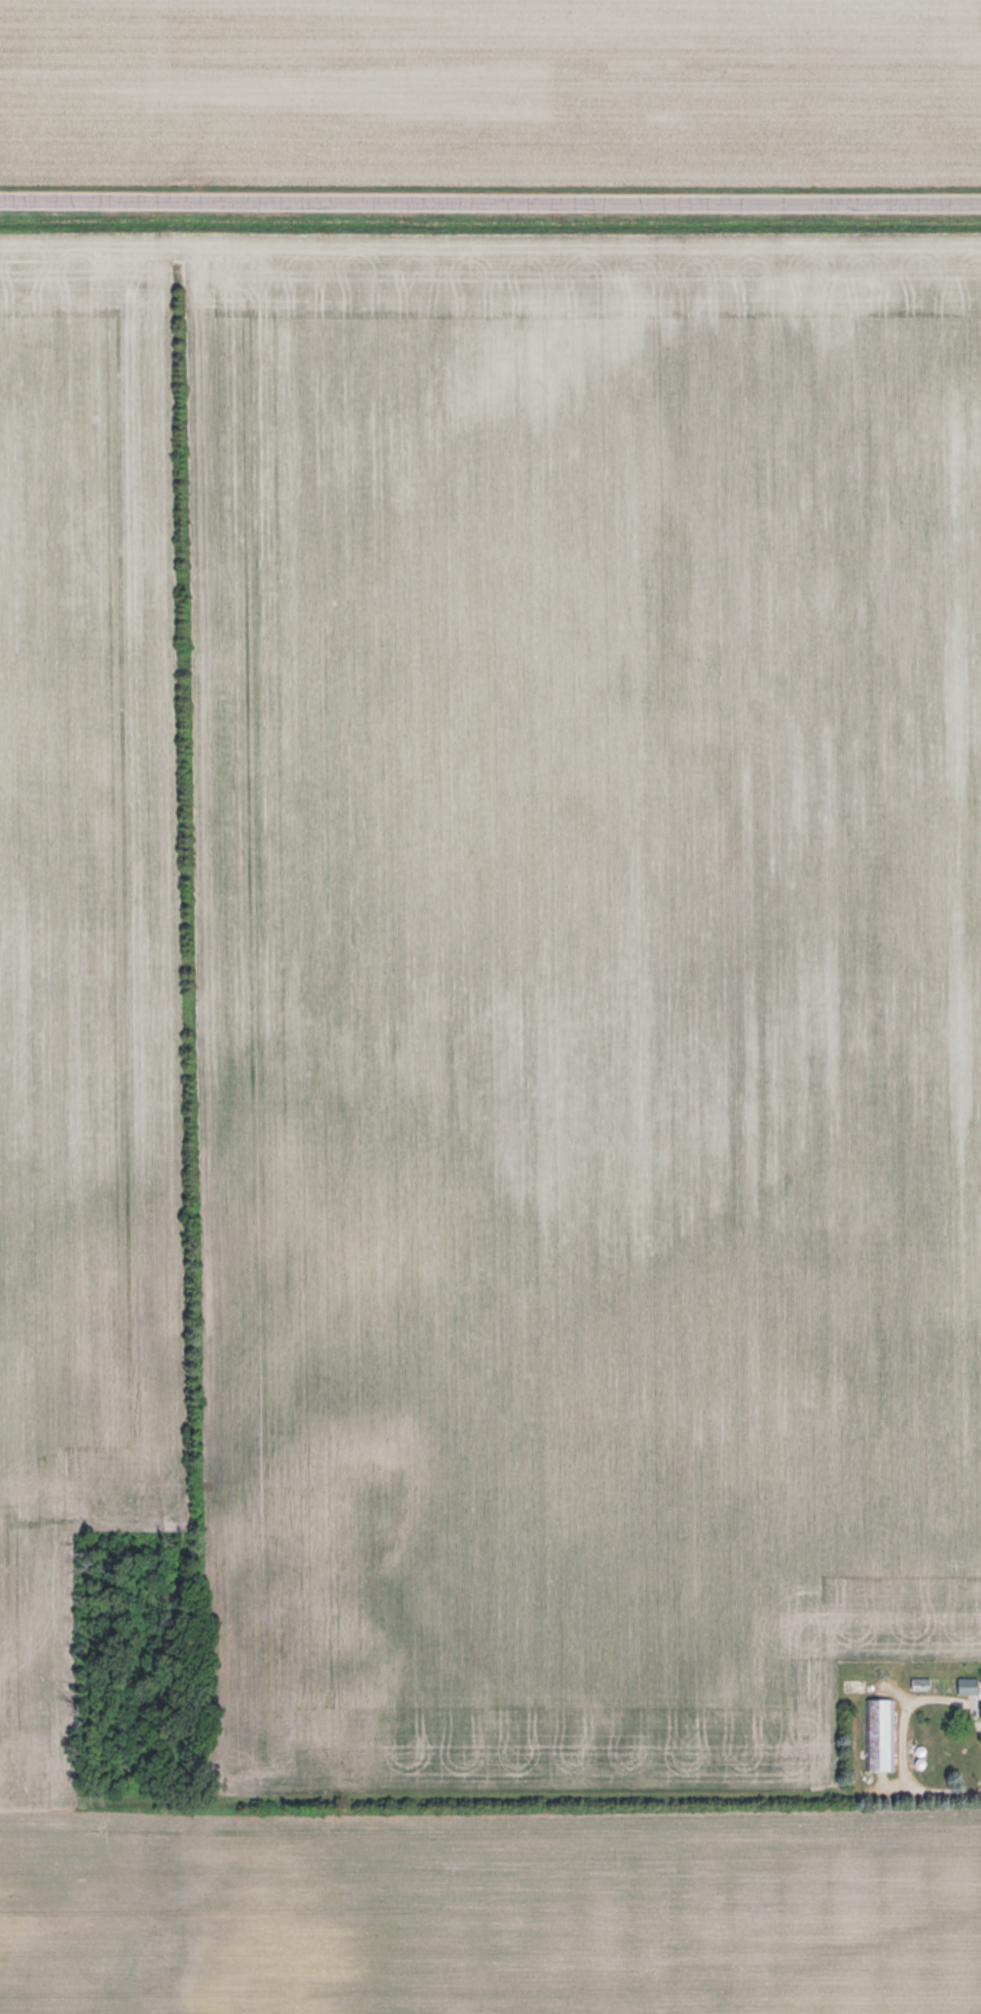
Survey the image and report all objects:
road: (490, 209)
building: (921, 1683)
building: (969, 1685)
road: (902, 1729)
building: (880, 1734)

